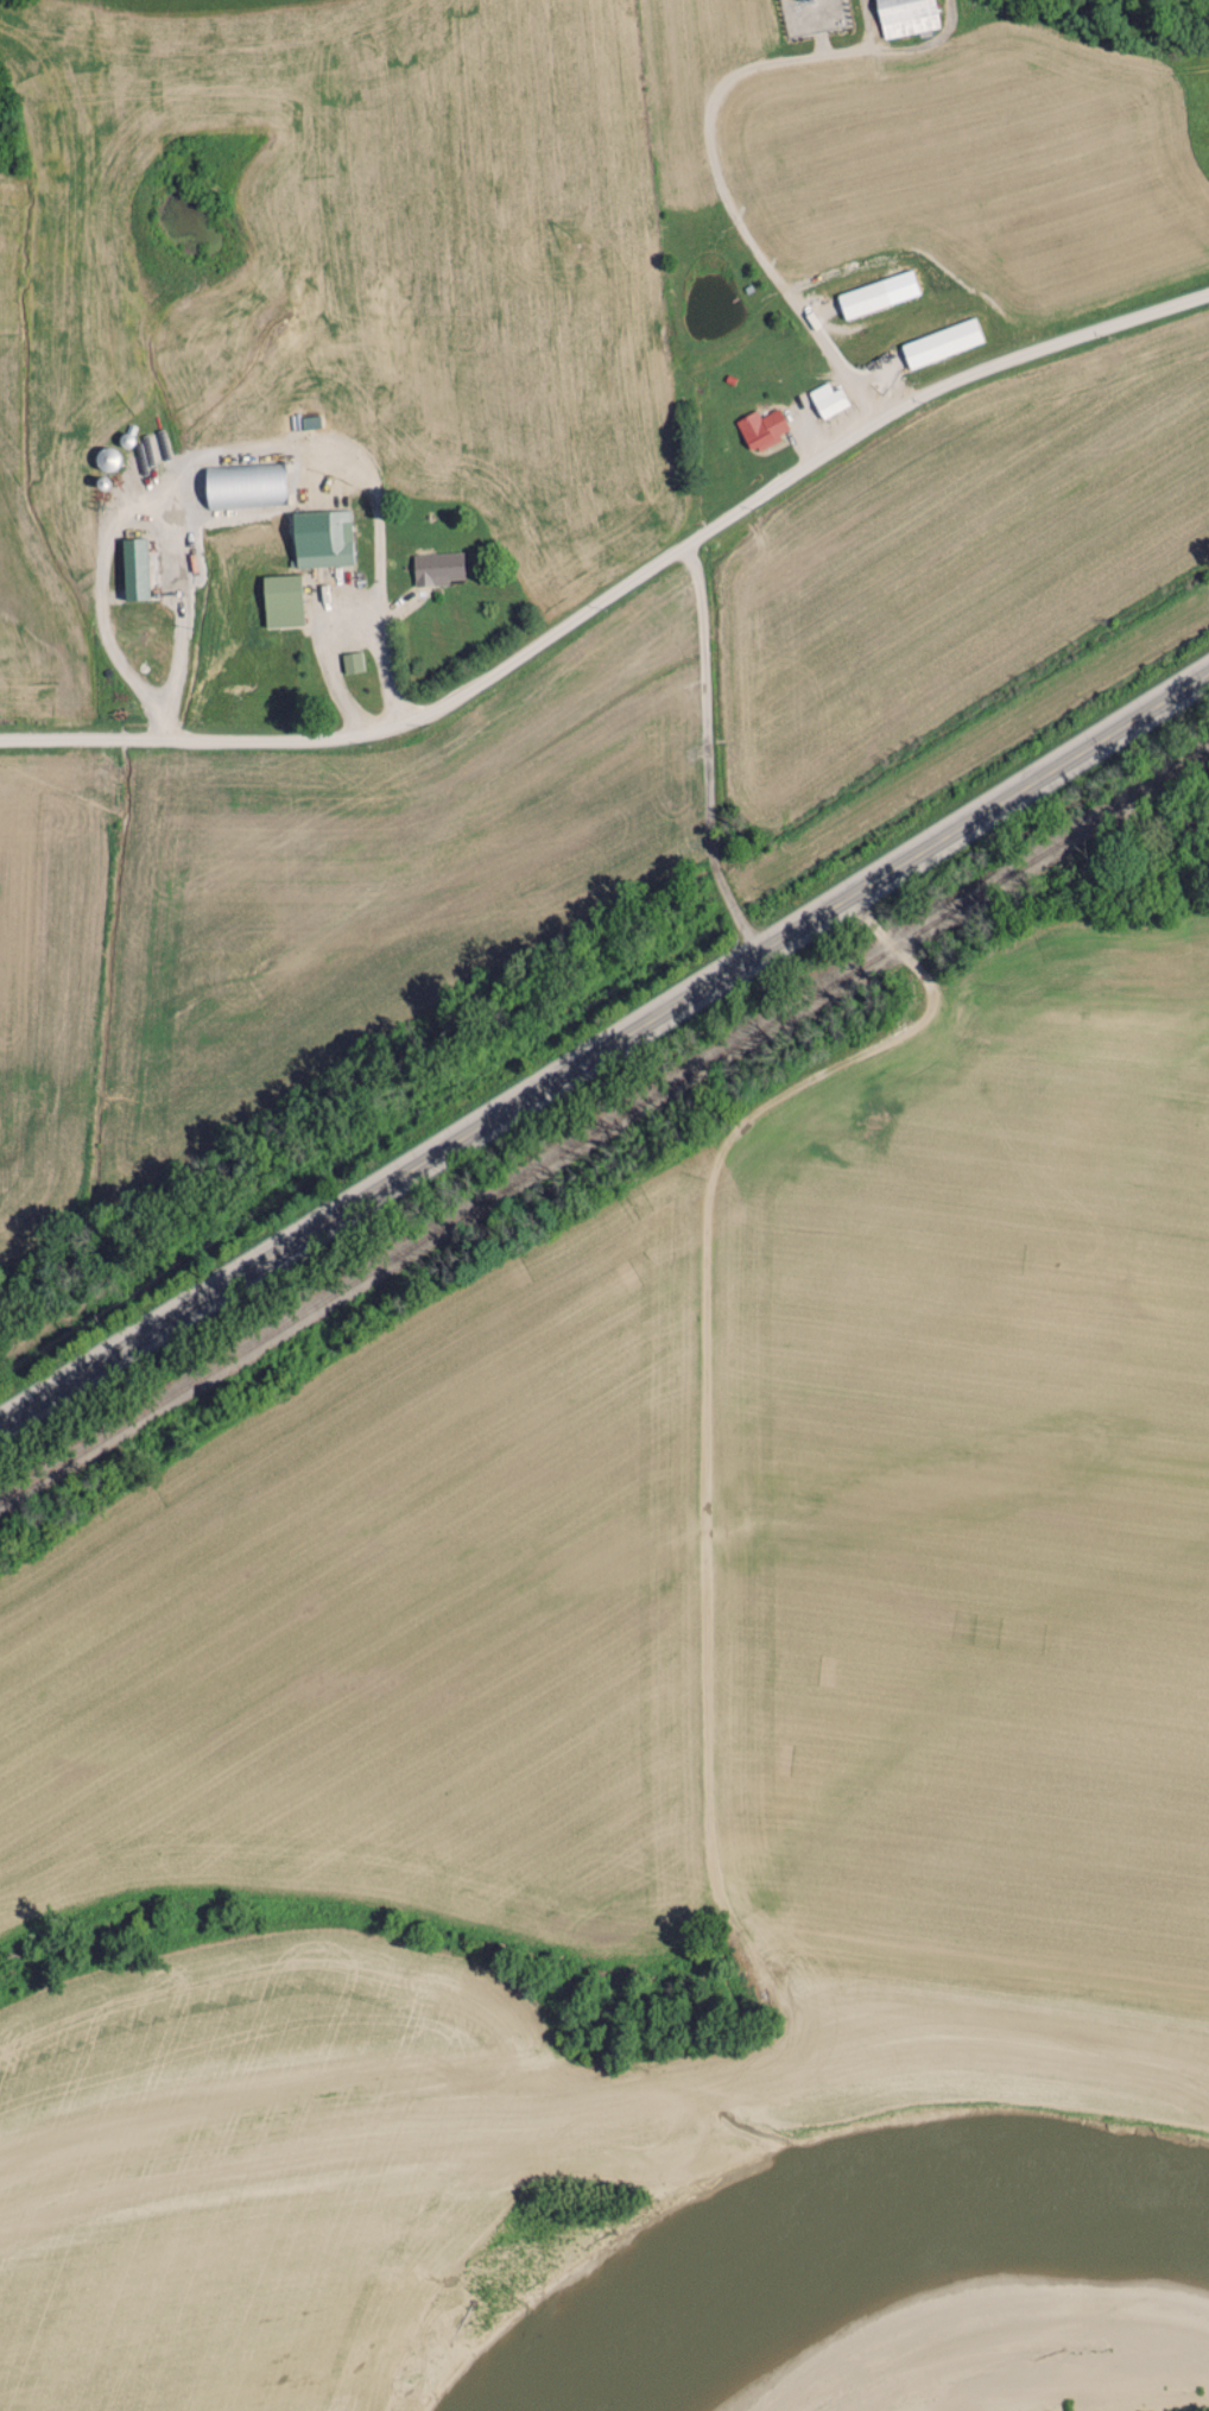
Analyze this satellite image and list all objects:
building: (905, 15)
building: (862, 298)
building: (941, 342)
building: (827, 399)
building: (760, 429)
building: (106, 458)
building: (229, 485)
building: (321, 538)
building: (436, 568)
building: (133, 569)
road: (624, 587)
building: (280, 600)
building: (350, 662)
road: (604, 1044)
railway: (604, 1129)
river: (1103, 2374)

